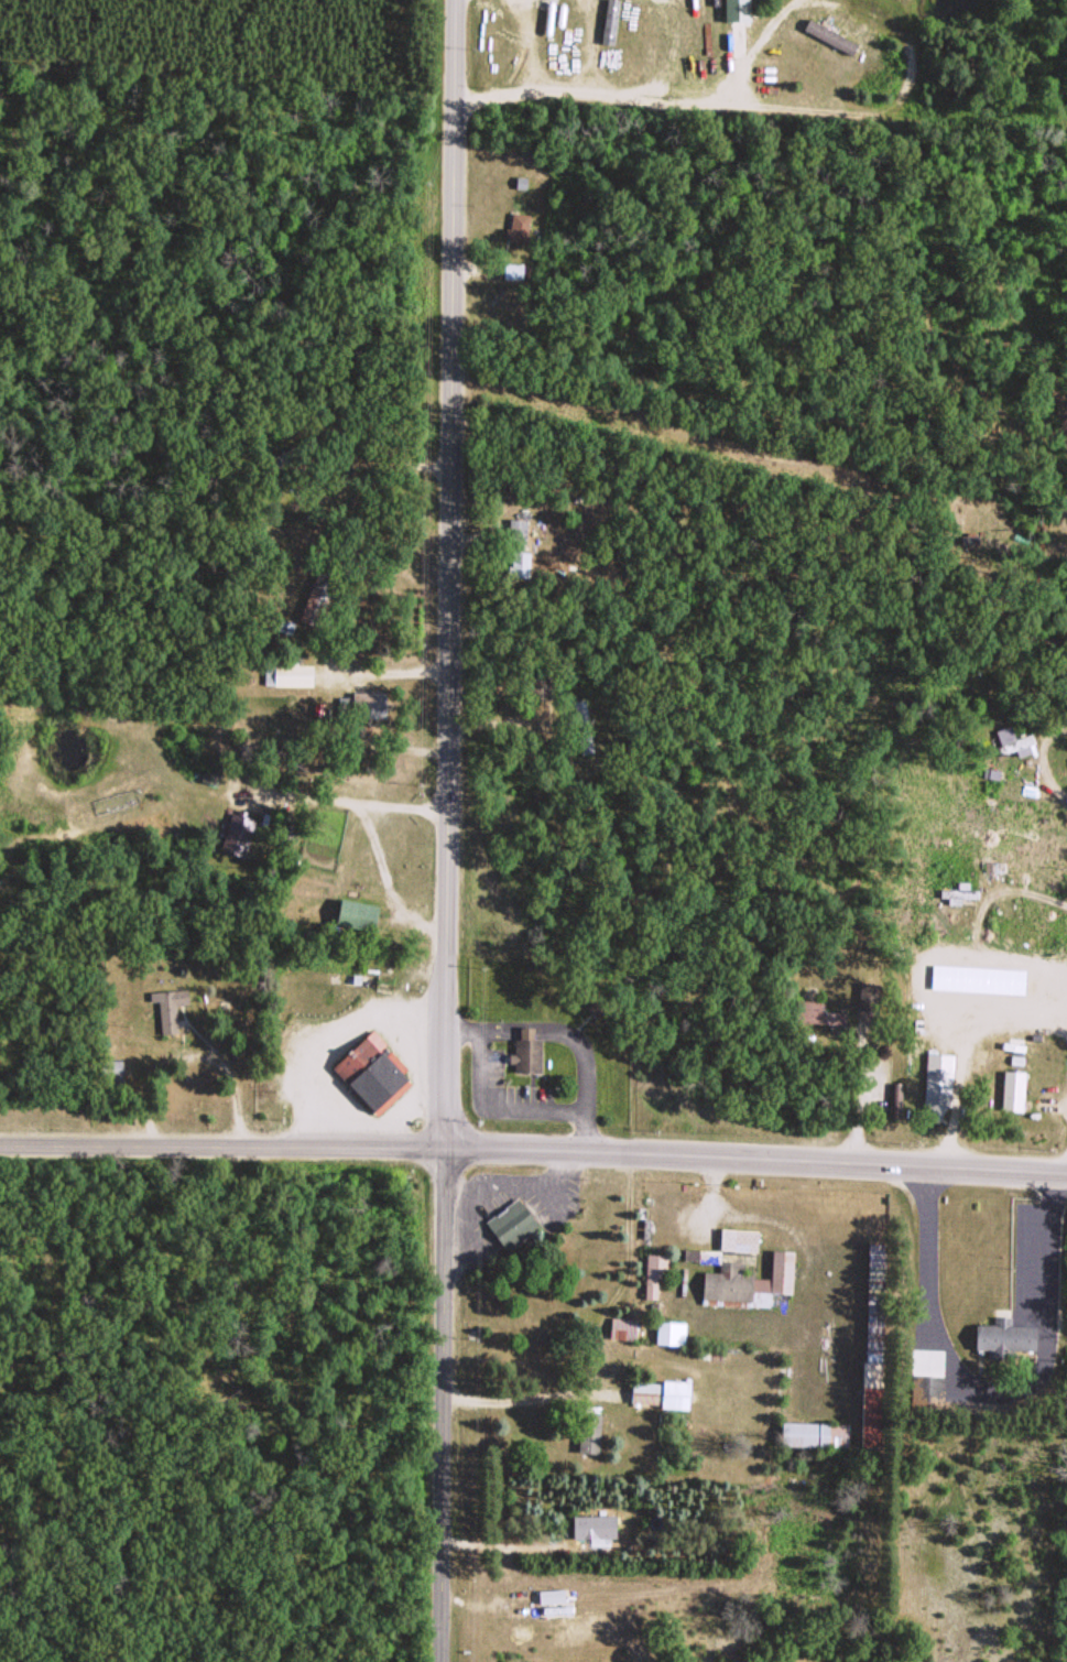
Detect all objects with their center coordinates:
building: (733, 9)
building: (609, 21)
building: (828, 35)
road: (760, 107)
building: (518, 225)
building: (288, 454)
building: (518, 547)
road: (449, 573)
building: (287, 673)
building: (538, 684)
building: (583, 725)
building: (1014, 739)
building: (237, 829)
building: (353, 913)
building: (865, 997)
building: (168, 1007)
building: (819, 1011)
building: (525, 1051)
building: (110, 1072)
building: (371, 1073)
building: (937, 1084)
building: (1012, 1089)
road: (533, 1149)
building: (511, 1224)
building: (874, 1258)
building: (741, 1269)
building: (653, 1272)
building: (621, 1327)
building: (669, 1332)
building: (1001, 1337)
building: (871, 1364)
building: (925, 1390)
building: (658, 1392)
road: (444, 1404)
building: (588, 1431)
building: (813, 1433)
building: (592, 1525)

